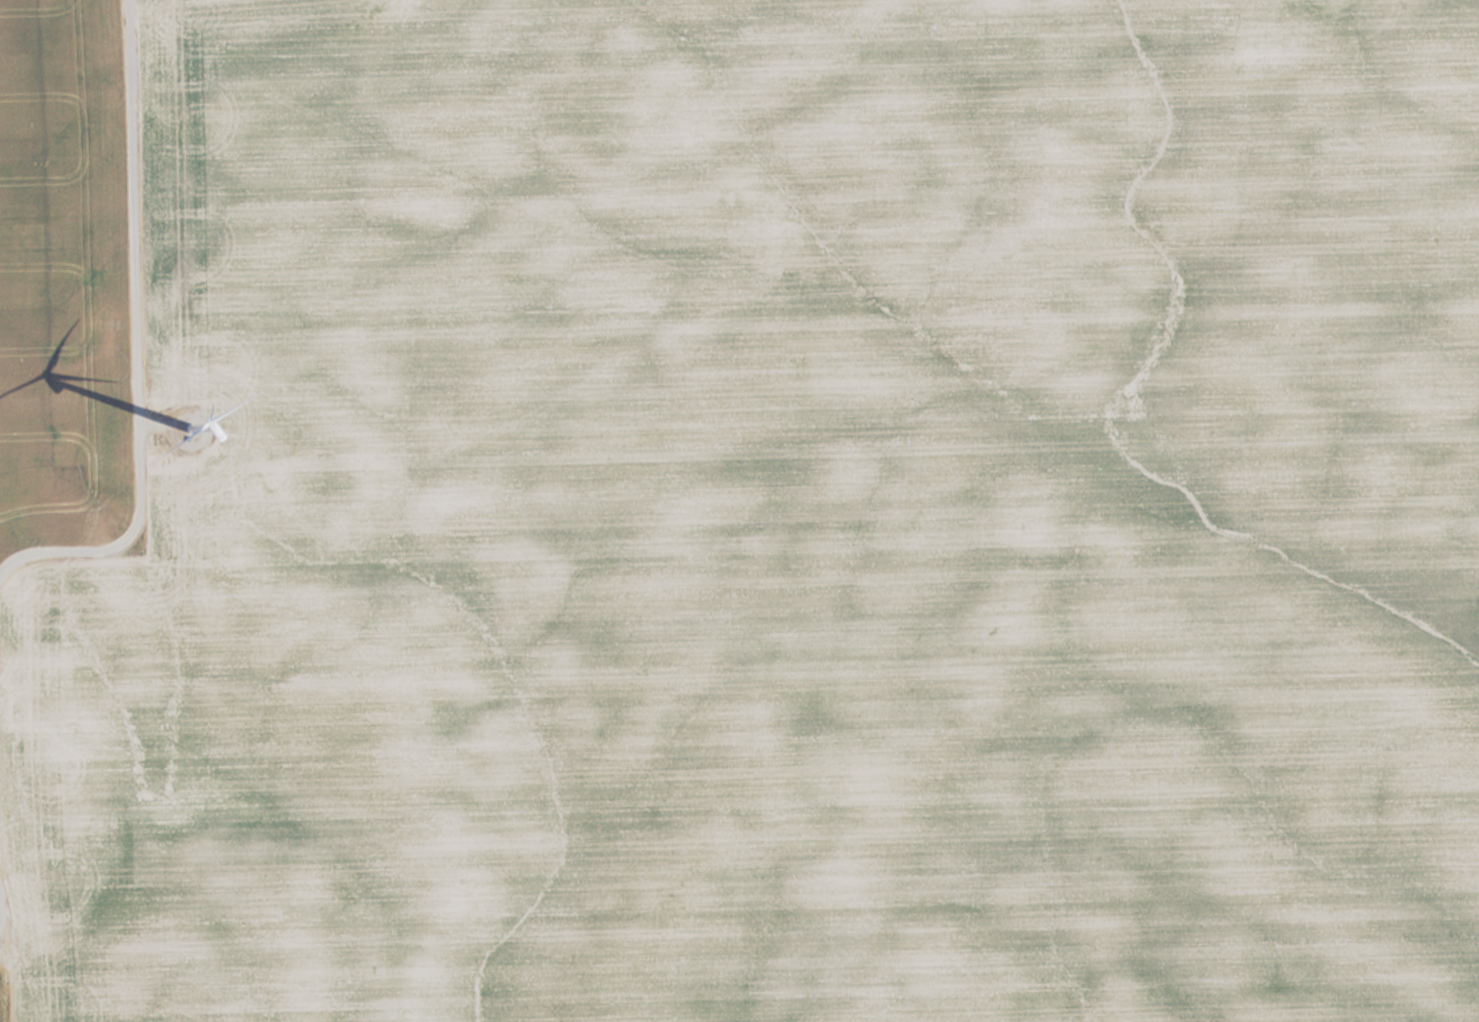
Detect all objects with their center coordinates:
wind turbine: (187, 426)
road: (137, 542)

